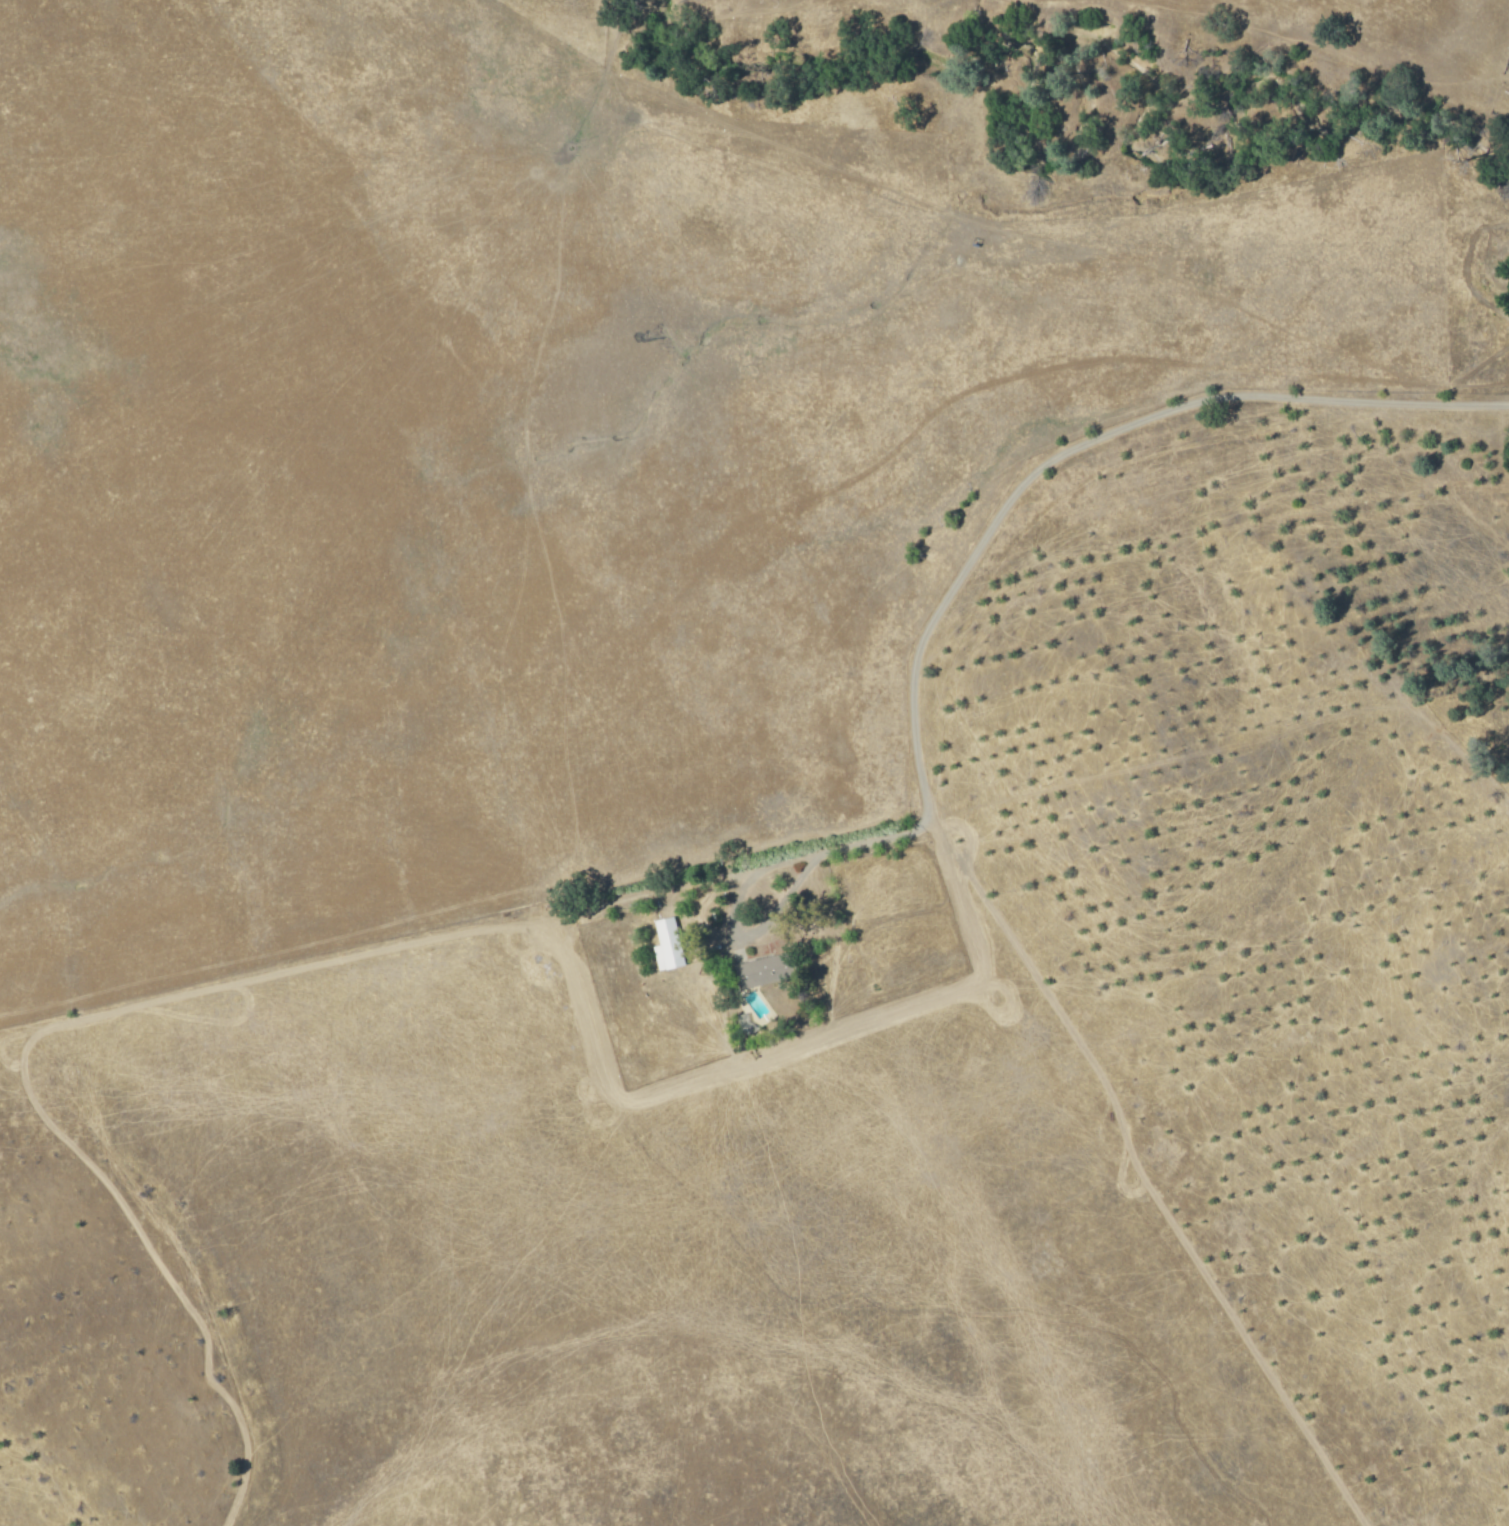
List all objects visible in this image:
road: (1083, 448)
road: (763, 869)
building: (668, 944)
building: (763, 969)

